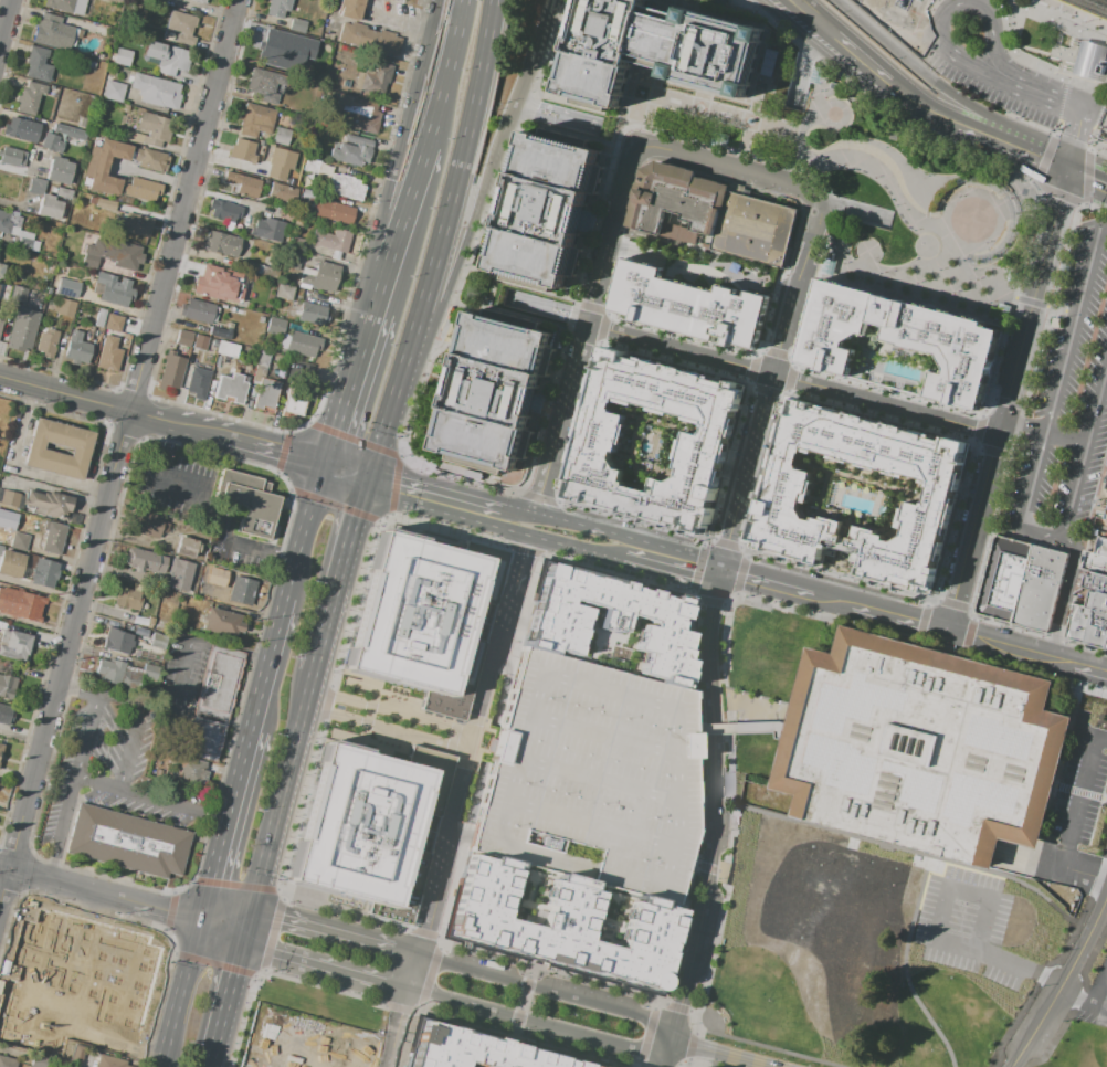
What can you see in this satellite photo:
building: (390, 0)
building: (200, 1)
building: (719, 1)
railway: (1104, 1)
power substation: (902, 4)
building: (66, 6)
road: (932, 7)
building: (277, 8)
building: (350, 9)
railway: (1085, 9)
railway: (1082, 10)
road: (805, 12)
road: (1068, 14)
railway: (1067, 15)
building: (117, 19)
road: (6, 24)
building: (297, 25)
building: (181, 27)
road: (1105, 29)
building: (53, 31)
building: (98, 31)
building: (75, 36)
road: (1100, 36)
building: (369, 39)
road: (886, 40)
road: (1000, 45)
building: (270, 46)
building: (309, 49)
building: (653, 52)
building: (166, 57)
building: (323, 57)
road: (856, 57)
building: (124, 59)
building: (1090, 60)
road: (1096, 61)
building: (768, 62)
building: (38, 64)
building: (91, 64)
road: (803, 65)
road: (1031, 65)
building: (1105, 68)
parking lot: (1105, 68)
road: (444, 72)
building: (816, 76)
building: (378, 80)
road: (1005, 82)
building: (261, 84)
road: (1090, 84)
building: (833, 86)
building: (156, 91)
building: (114, 92)
parking lot: (989, 92)
fountain: (645, 94)
building: (30, 96)
road: (1062, 101)
road: (836, 104)
road: (695, 106)
road: (963, 106)
road: (818, 109)
building: (356, 112)
road: (922, 112)
road: (1099, 112)
road: (558, 115)
building: (255, 119)
building: (82, 123)
road: (976, 127)
road: (1056, 127)
building: (1105, 127)
parking lot: (1105, 127)
building: (21, 129)
building: (150, 130)
building: (68, 131)
road: (1077, 135)
building: (280, 136)
road: (1092, 137)
building: (719, 140)
building: (51, 144)
building: (265, 148)
building: (355, 150)
road: (1031, 151)
building: (274, 152)
road: (403, 152)
building: (243, 155)
building: (284, 155)
building: (329, 155)
building: (10, 157)
building: (292, 157)
road: (842, 159)
road: (1043, 159)
building: (150, 160)
road: (720, 163)
building: (105, 166)
building: (310, 166)
building: (262, 169)
building: (57, 170)
road: (800, 170)
traffic signals: (1067, 170)
building: (272, 171)
road: (151, 177)
road: (1087, 178)
building: (266, 181)
building: (243, 183)
building: (35, 187)
building: (345, 187)
building: (140, 190)
road: (963, 192)
building: (63, 193)
building: (281, 193)
building: (307, 194)
building: (102, 203)
road: (1019, 203)
road: (1084, 204)
building: (49, 208)
building: (223, 210)
building: (542, 210)
road: (1056, 210)
road: (855, 211)
building: (336, 213)
building: (711, 213)
road: (470, 216)
building: (3, 223)
building: (303, 224)
building: (135, 225)
road: (399, 225)
building: (267, 229)
road: (945, 234)
building: (331, 240)
building: (297, 243)
building: (23, 244)
building: (222, 245)
road: (433, 246)
building: (112, 255)
building: (294, 261)
road: (841, 265)
road: (1042, 265)
building: (1, 266)
building: (51, 267)
building: (257, 268)
road: (951, 273)
road: (805, 276)
building: (20, 277)
building: (320, 277)
road: (936, 278)
road: (955, 283)
building: (34, 285)
road: (928, 286)
building: (67, 288)
building: (207, 288)
road: (972, 288)
building: (283, 292)
building: (116, 294)
building: (22, 296)
building: (697, 296)
building: (267, 297)
building: (239, 299)
road: (1023, 299)
road: (1042, 304)
building: (64, 307)
building: (265, 308)
road: (547, 308)
building: (233, 309)
building: (36, 310)
building: (198, 310)
building: (560, 310)
road: (1066, 311)
building: (314, 314)
building: (99, 317)
building: (261, 318)
road: (801, 318)
building: (0, 321)
building: (113, 323)
building: (274, 327)
road: (588, 330)
building: (19, 332)
building: (220, 332)
road: (1076, 334)
building: (183, 338)
building: (45, 341)
building: (200, 342)
building: (897, 344)
building: (302, 345)
building: (75, 347)
building: (209, 348)
building: (226, 349)
road: (683, 349)
road: (1019, 352)
building: (108, 355)
building: (262, 359)
building: (171, 371)
building: (197, 382)
road: (349, 387)
building: (230, 388)
building: (265, 393)
building: (492, 393)
parking lot: (1067, 395)
building: (293, 402)
road: (887, 403)
road: (109, 406)
road: (760, 422)
road: (1025, 429)
road: (126, 435)
road: (1068, 440)
building: (599, 442)
road: (273, 451)
building: (40, 452)
traffic signals: (326, 467)
road: (735, 469)
road: (350, 471)
traffic signals: (375, 474)
road: (756, 475)
road: (1079, 477)
road: (348, 479)
road: (1037, 483)
road: (439, 490)
traffic signals: (370, 493)
building: (782, 496)
building: (9, 498)
building: (251, 503)
road: (1090, 503)
building: (50, 505)
road: (1106, 507)
road: (201, 508)
road: (450, 513)
building: (1105, 514)
road: (559, 524)
road: (732, 524)
building: (149, 526)
road: (972, 529)
building: (1103, 529)
building: (53, 538)
building: (19, 541)
road: (625, 546)
building: (187, 548)
road: (303, 548)
road: (581, 549)
building: (1096, 558)
building: (11, 563)
road: (348, 563)
road: (677, 564)
building: (148, 567)
building: (184, 569)
building: (43, 573)
traffic signals: (720, 575)
building: (1095, 582)
building: (1022, 583)
building: (177, 587)
road: (767, 588)
building: (241, 589)
road: (1071, 594)
building: (129, 600)
building: (20, 605)
road: (833, 605)
building: (1097, 609)
building: (425, 617)
building: (151, 621)
building: (608, 621)
road: (899, 622)
building: (223, 623)
building: (1078, 623)
building: (1096, 636)
building: (118, 640)
road: (482, 641)
building: (14, 645)
building: (157, 645)
building: (1106, 646)
road: (323, 654)
road: (1025, 655)
building: (109, 670)
road: (184, 673)
road: (266, 679)
building: (219, 682)
building: (7, 686)
road: (77, 694)
road: (391, 712)
building: (6, 714)
road: (387, 729)
road: (738, 729)
building: (203, 740)
road: (468, 744)
building: (919, 747)
building: (1, 750)
road: (127, 757)
building: (191, 773)
building: (592, 779)
parking lot: (592, 779)
road: (72, 790)
road: (130, 794)
road: (283, 802)
road: (715, 811)
road: (704, 812)
road: (226, 822)
building: (370, 828)
building: (128, 843)
road: (4, 868)
road: (70, 885)
road: (693, 888)
road: (4, 889)
road: (166, 907)
traffic signals: (201, 916)
road: (224, 922)
building: (561, 926)
traffic signals: (247, 930)
road: (319, 930)
road: (34, 950)
road: (80, 960)
road: (325, 966)
building: (134, 974)
road: (1062, 982)
road: (536, 987)
road: (231, 989)
road: (181, 991)
road: (1099, 992)
parking lot: (1095, 997)
road: (408, 999)
road: (1074, 1000)
road: (1099, 1007)
road: (539, 1026)
road: (82, 1035)
building: (474, 1050)
road: (714, 1055)
road: (666, 1056)
road: (212, 1057)
building: (8, 1061)
building: (109, 1061)

